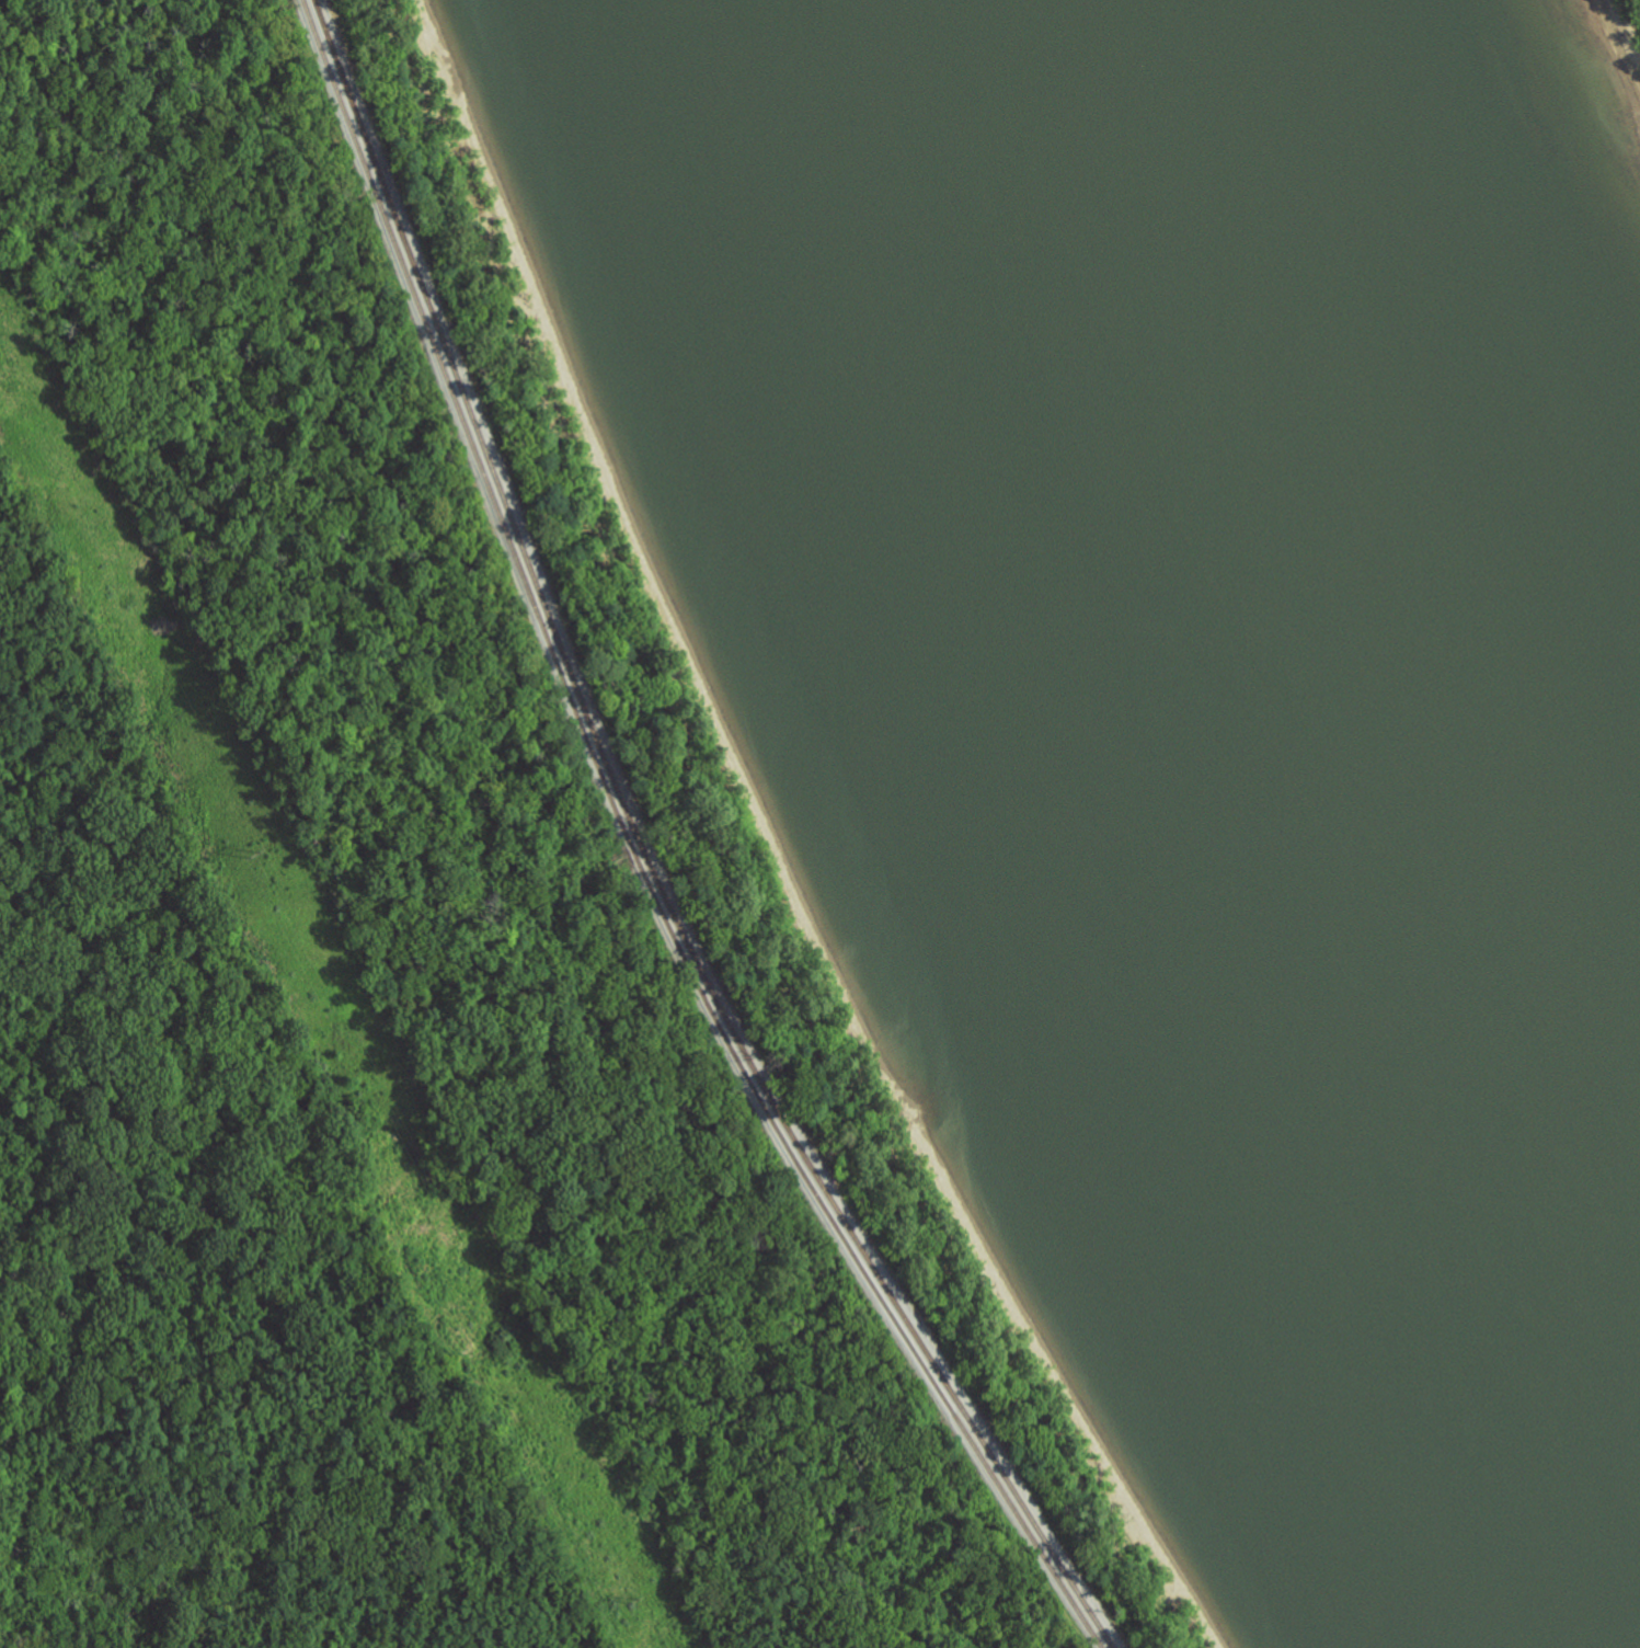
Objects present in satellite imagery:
crop: (1638, 3)
river: (1215, 730)
power tower: (253, 849)
railway: (638, 856)
railway: (650, 856)
power tower: (632, 1598)

